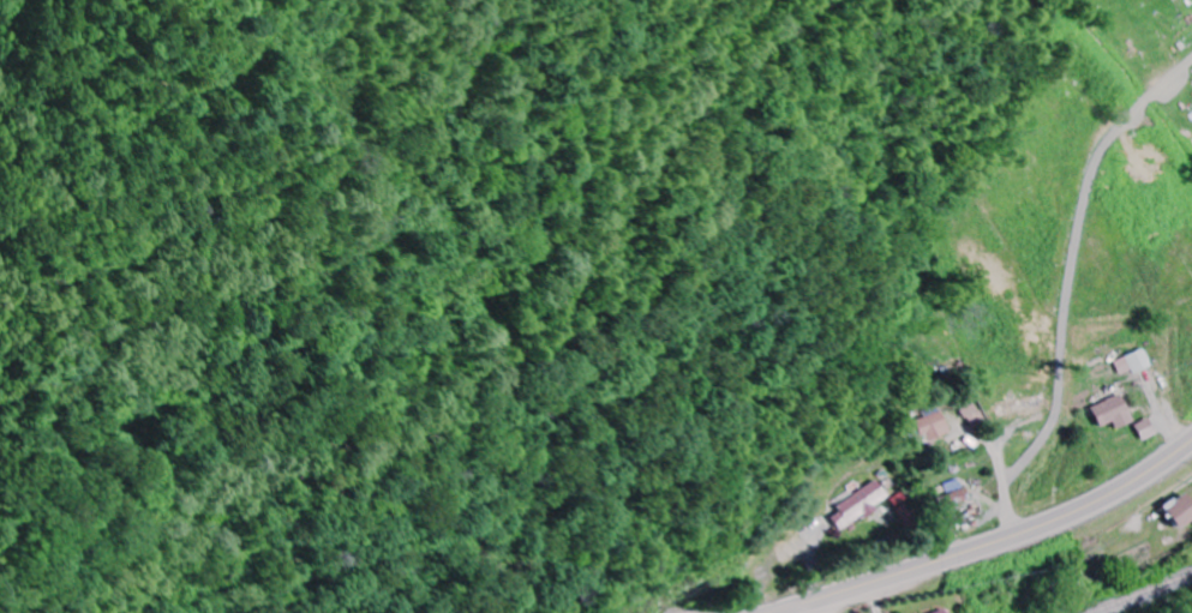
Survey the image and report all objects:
park: (1150, 54)
building: (1132, 362)
building: (1019, 405)
building: (1110, 411)
building: (927, 427)
building: (1144, 428)
road: (1000, 483)
building: (857, 505)
building: (1180, 510)
road: (992, 542)
railway: (1142, 593)
road: (810, 607)
building: (947, 612)

